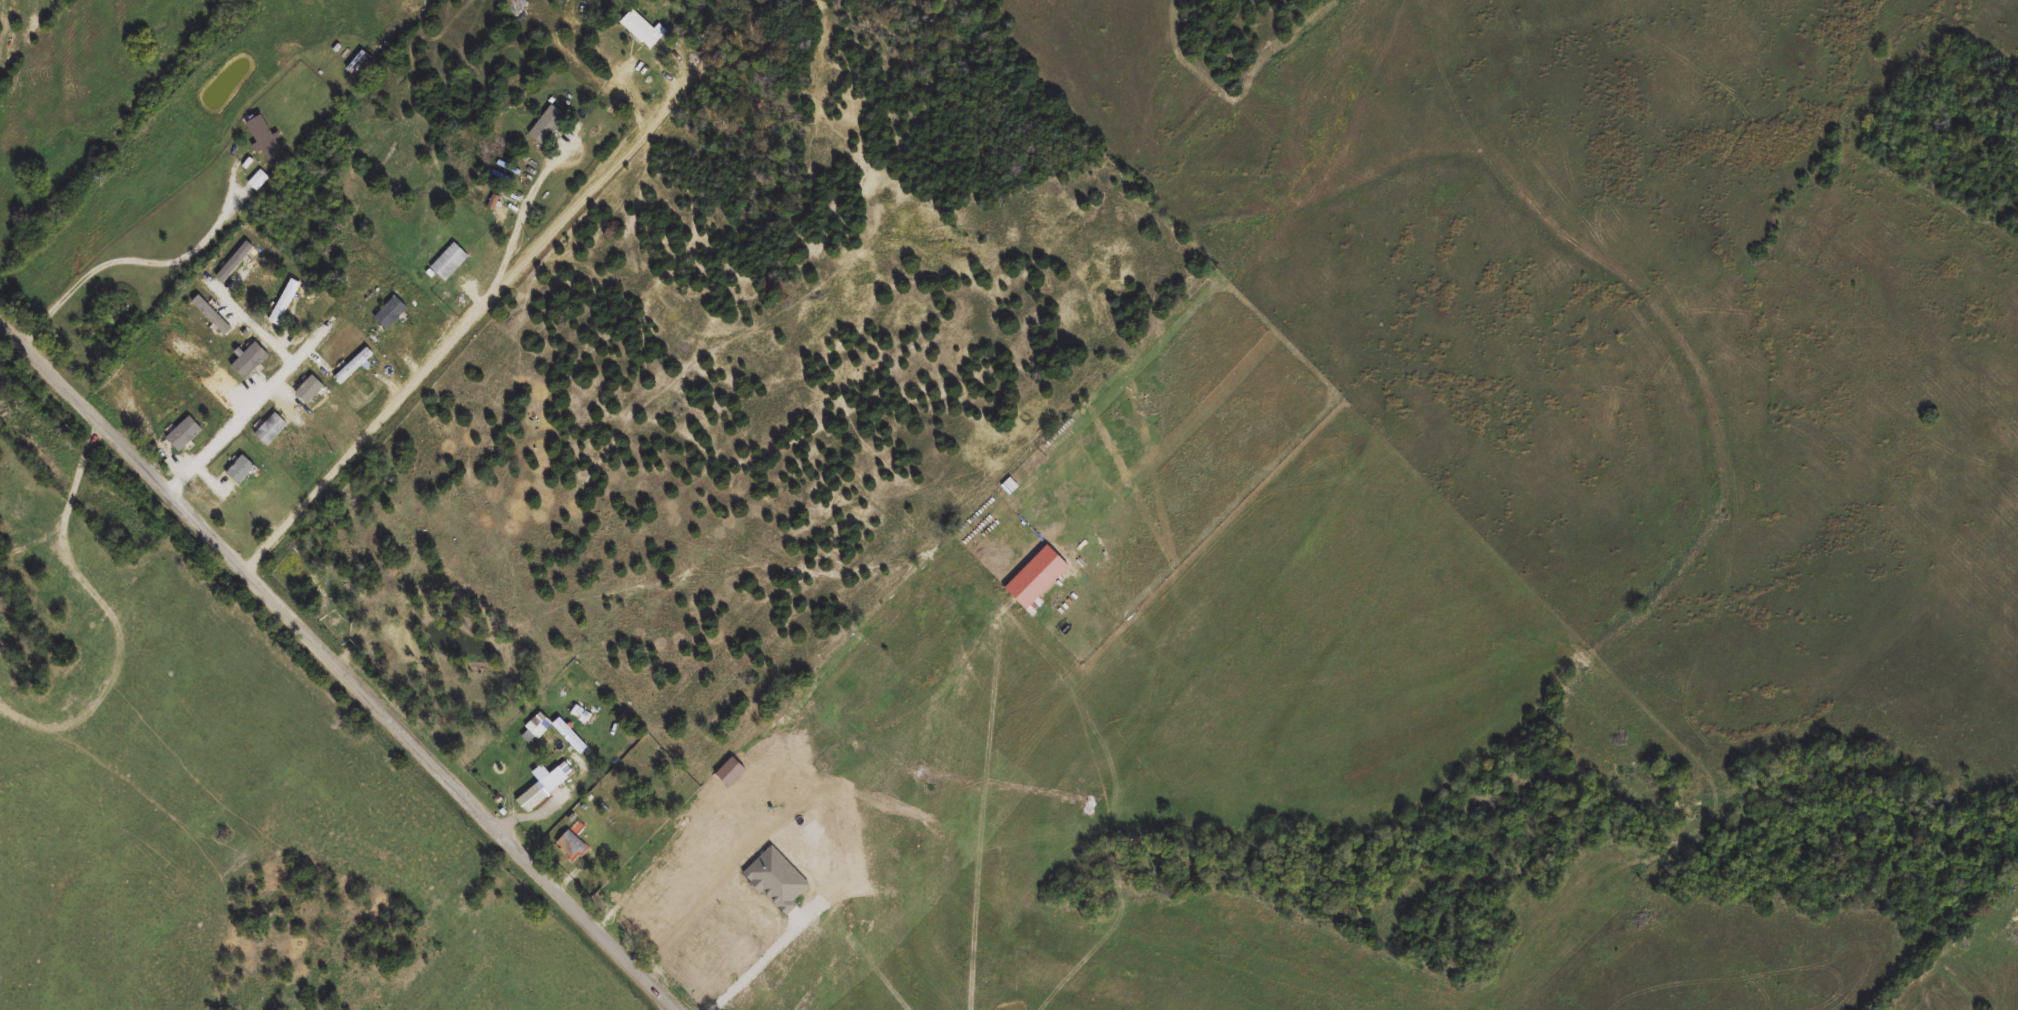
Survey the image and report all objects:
building: (641, 30)
building: (545, 125)
road: (128, 261)
building: (447, 263)
building: (388, 313)
road: (443, 355)
building: (352, 366)
road: (253, 409)
building: (1034, 579)
road: (341, 664)
building: (537, 727)
building: (567, 737)
building: (727, 774)
building: (542, 788)
road: (538, 813)
building: (569, 845)
building: (773, 881)
road: (766, 965)

